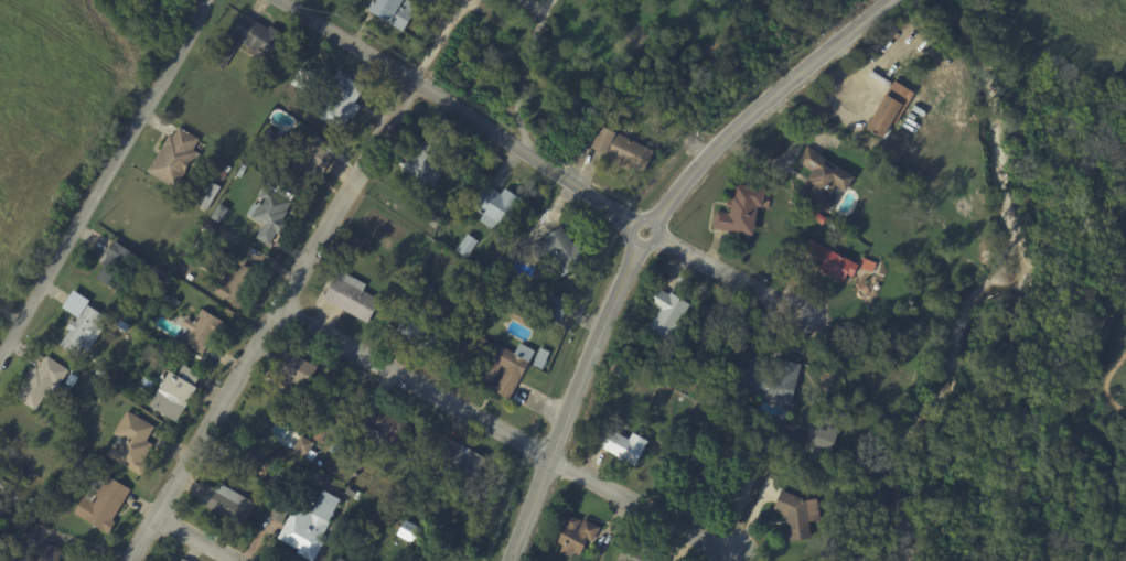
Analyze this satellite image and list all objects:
building: (430, 3)
road: (530, 6)
building: (392, 12)
building: (256, 35)
road: (347, 41)
road: (443, 41)
building: (223, 53)
road: (528, 74)
building: (342, 100)
building: (888, 111)
building: (272, 140)
building: (619, 149)
road: (529, 157)
building: (174, 158)
building: (425, 161)
building: (305, 162)
building: (219, 171)
road: (104, 180)
building: (823, 180)
building: (207, 195)
building: (493, 206)
building: (739, 212)
building: (218, 213)
building: (269, 214)
building: (819, 219)
building: (243, 224)
building: (830, 227)
building: (211, 228)
road: (637, 239)
building: (352, 240)
building: (465, 246)
building: (559, 251)
building: (825, 261)
building: (866, 263)
building: (115, 265)
road: (722, 271)
building: (161, 278)
building: (233, 283)
building: (154, 291)
building: (428, 294)
building: (351, 296)
building: (150, 303)
building: (554, 306)
building: (665, 313)
building: (517, 314)
road: (272, 321)
building: (81, 328)
building: (201, 330)
building: (419, 331)
building: (117, 345)
building: (538, 357)
building: (110, 365)
building: (503, 365)
building: (288, 369)
building: (101, 371)
building: (71, 379)
building: (768, 379)
road: (1105, 381)
building: (41, 382)
building: (65, 388)
building: (173, 392)
building: (72, 393)
building: (383, 422)
building: (322, 430)
road: (505, 433)
building: (824, 439)
building: (130, 443)
building: (335, 445)
building: (622, 445)
building: (301, 449)
building: (787, 454)
building: (255, 455)
building: (455, 462)
building: (753, 465)
building: (699, 482)
building: (1, 484)
building: (347, 493)
building: (31, 500)
building: (226, 504)
building: (100, 505)
building: (279, 509)
building: (795, 514)
building: (1, 519)
building: (309, 527)
building: (408, 531)
building: (32, 532)
building: (572, 533)
building: (10, 535)
road: (195, 539)
building: (478, 544)
building: (47, 552)
building: (634, 554)
building: (340, 559)
building: (182, 560)

